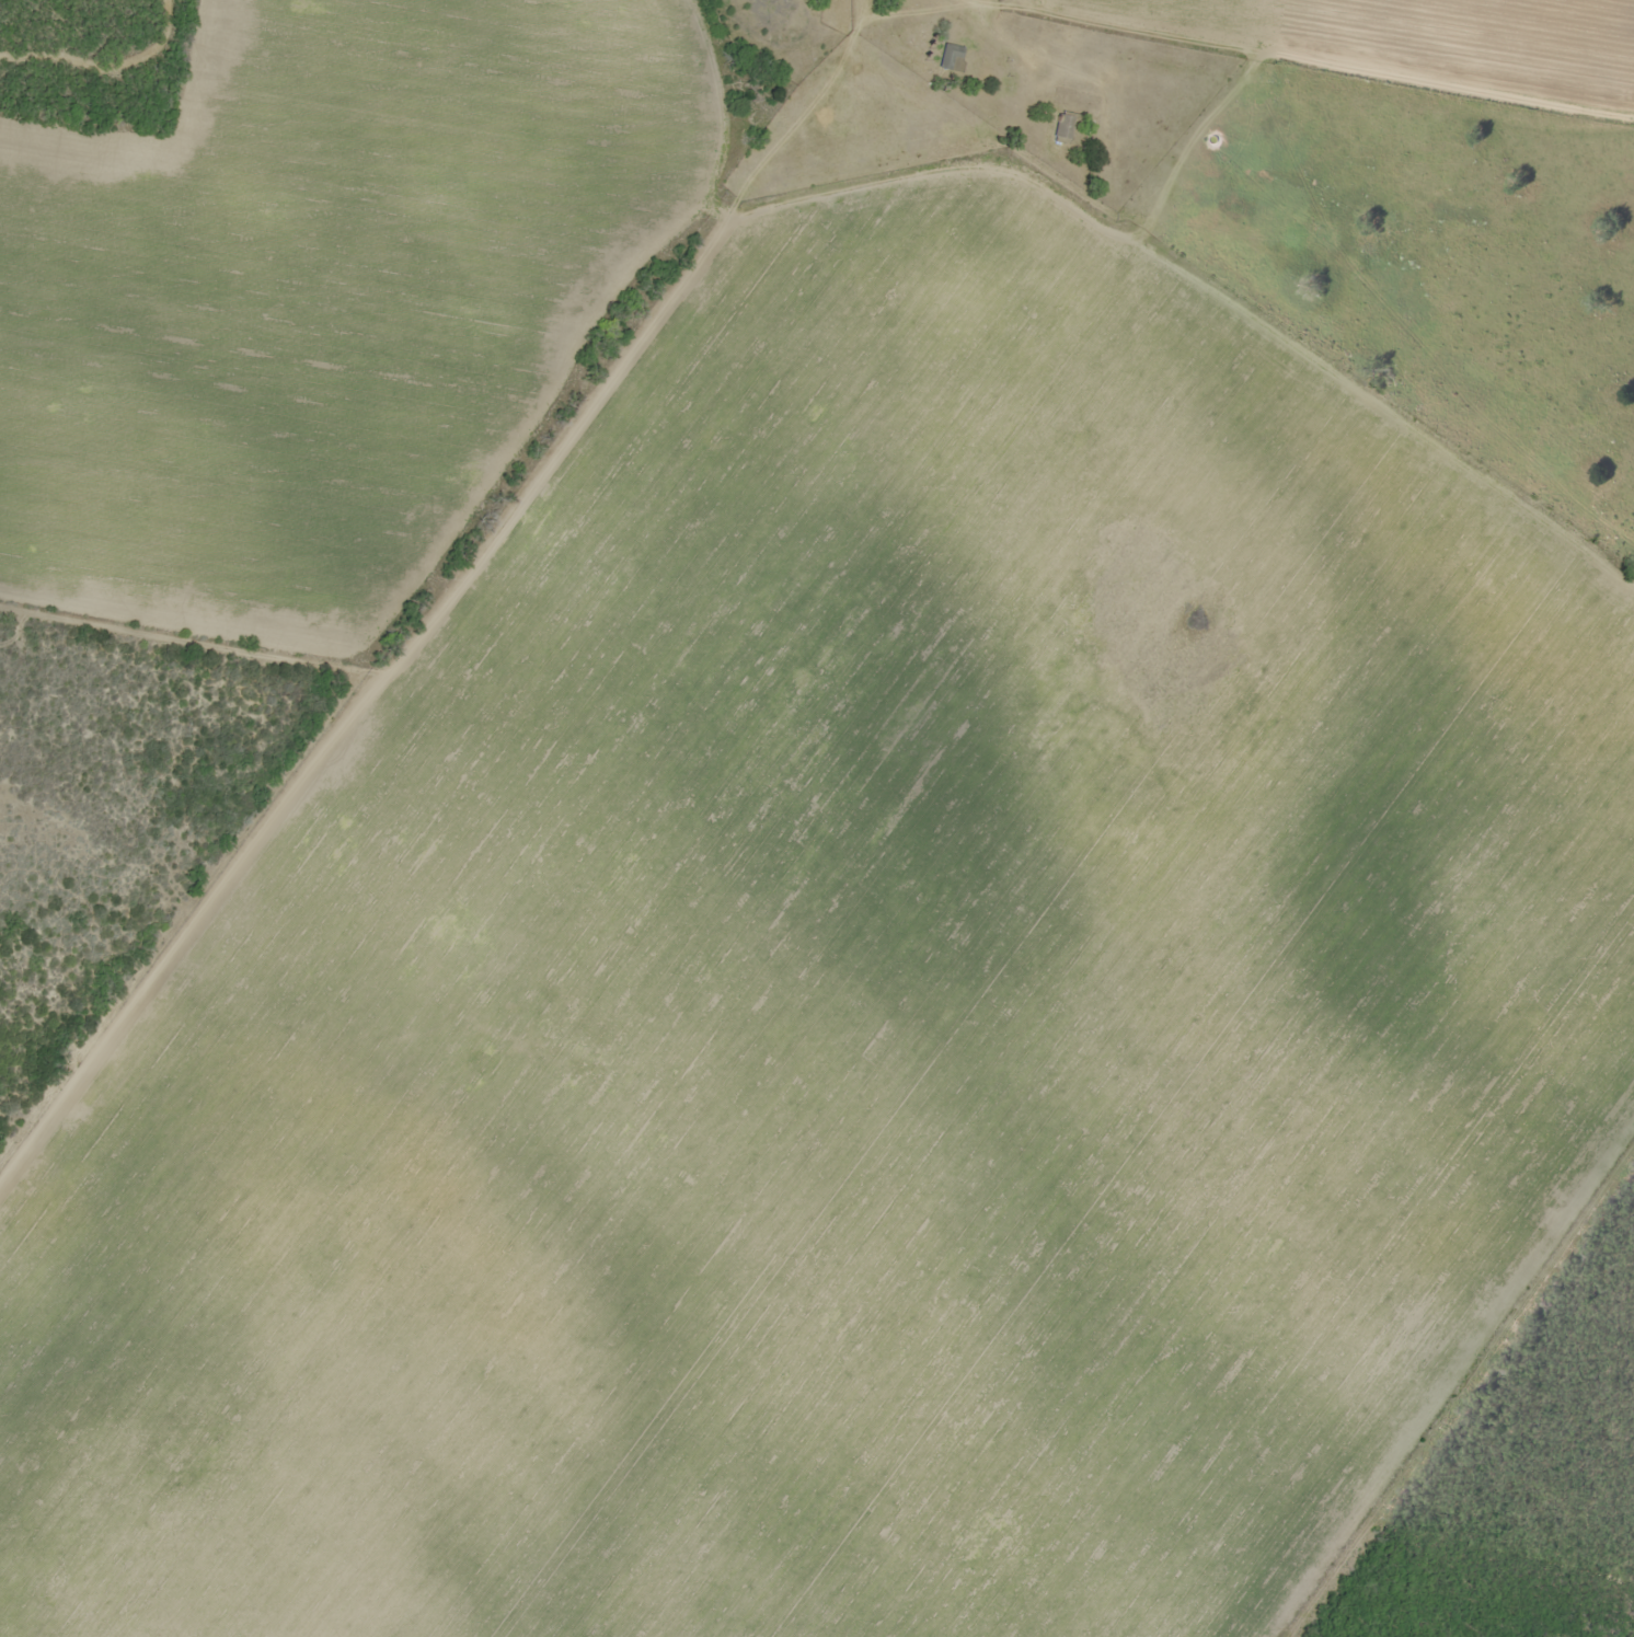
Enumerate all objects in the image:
building: (948, 57)
building: (1061, 129)
road: (663, 264)
road: (1580, 1473)

